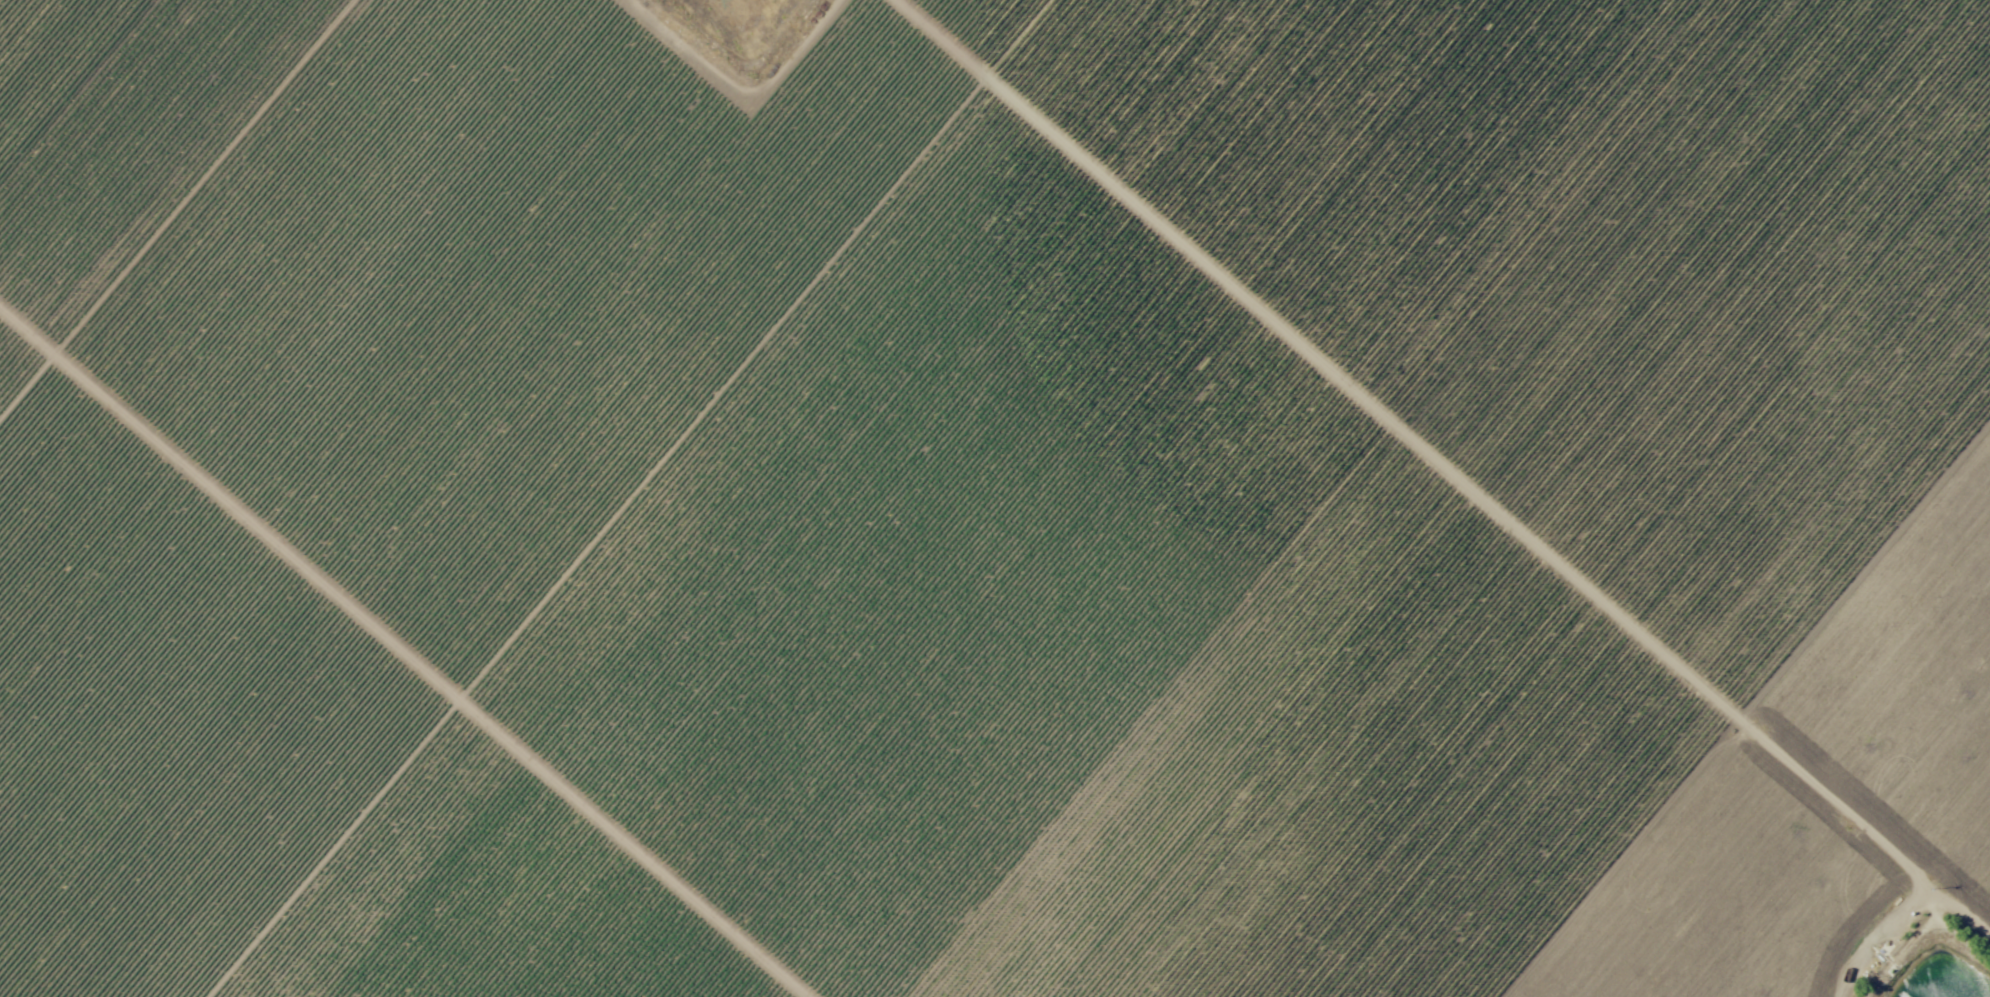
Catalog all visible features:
wastewater plant: (747, 25)
road: (943, 39)
building: (1883, 43)
road: (177, 208)
building: (1208, 272)
road: (630, 498)
crop: (995, 498)
road: (229, 504)
road: (1489, 506)
road: (633, 848)
wastewater plant: (1950, 988)

